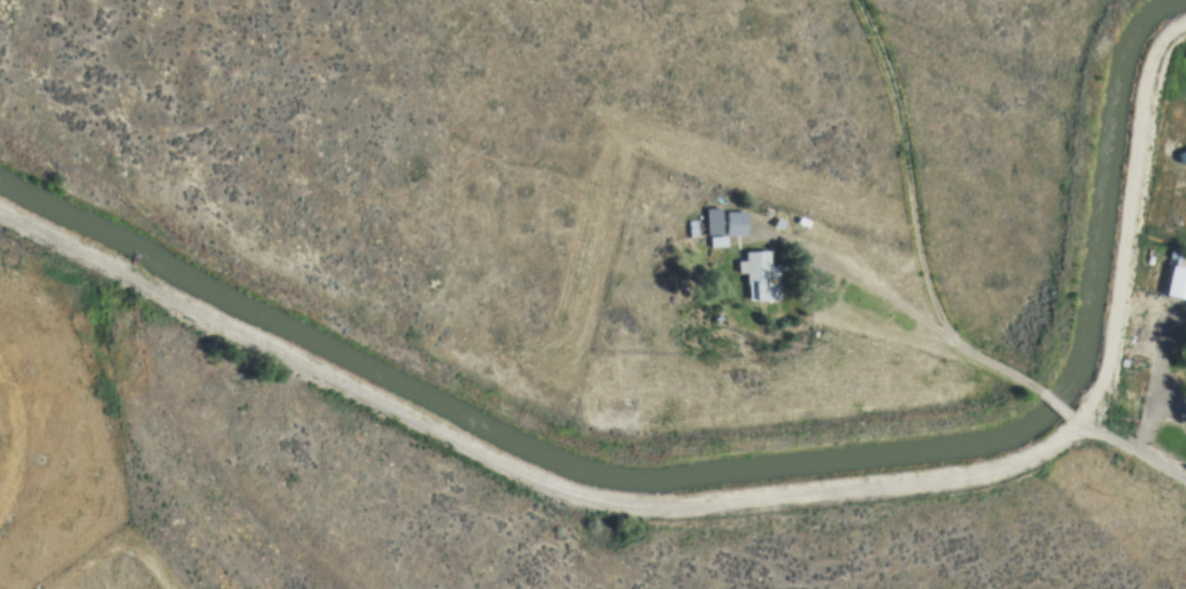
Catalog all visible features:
building: (1181, 154)
road: (696, 204)
building: (710, 220)
road: (914, 221)
building: (732, 223)
building: (775, 223)
building: (807, 226)
building: (690, 228)
building: (715, 242)
road: (799, 243)
building: (757, 273)
building: (1177, 277)
road: (825, 294)
building: (1127, 363)
road: (1168, 367)
road: (1057, 407)
road: (1152, 420)
road: (1128, 449)
road: (723, 503)

